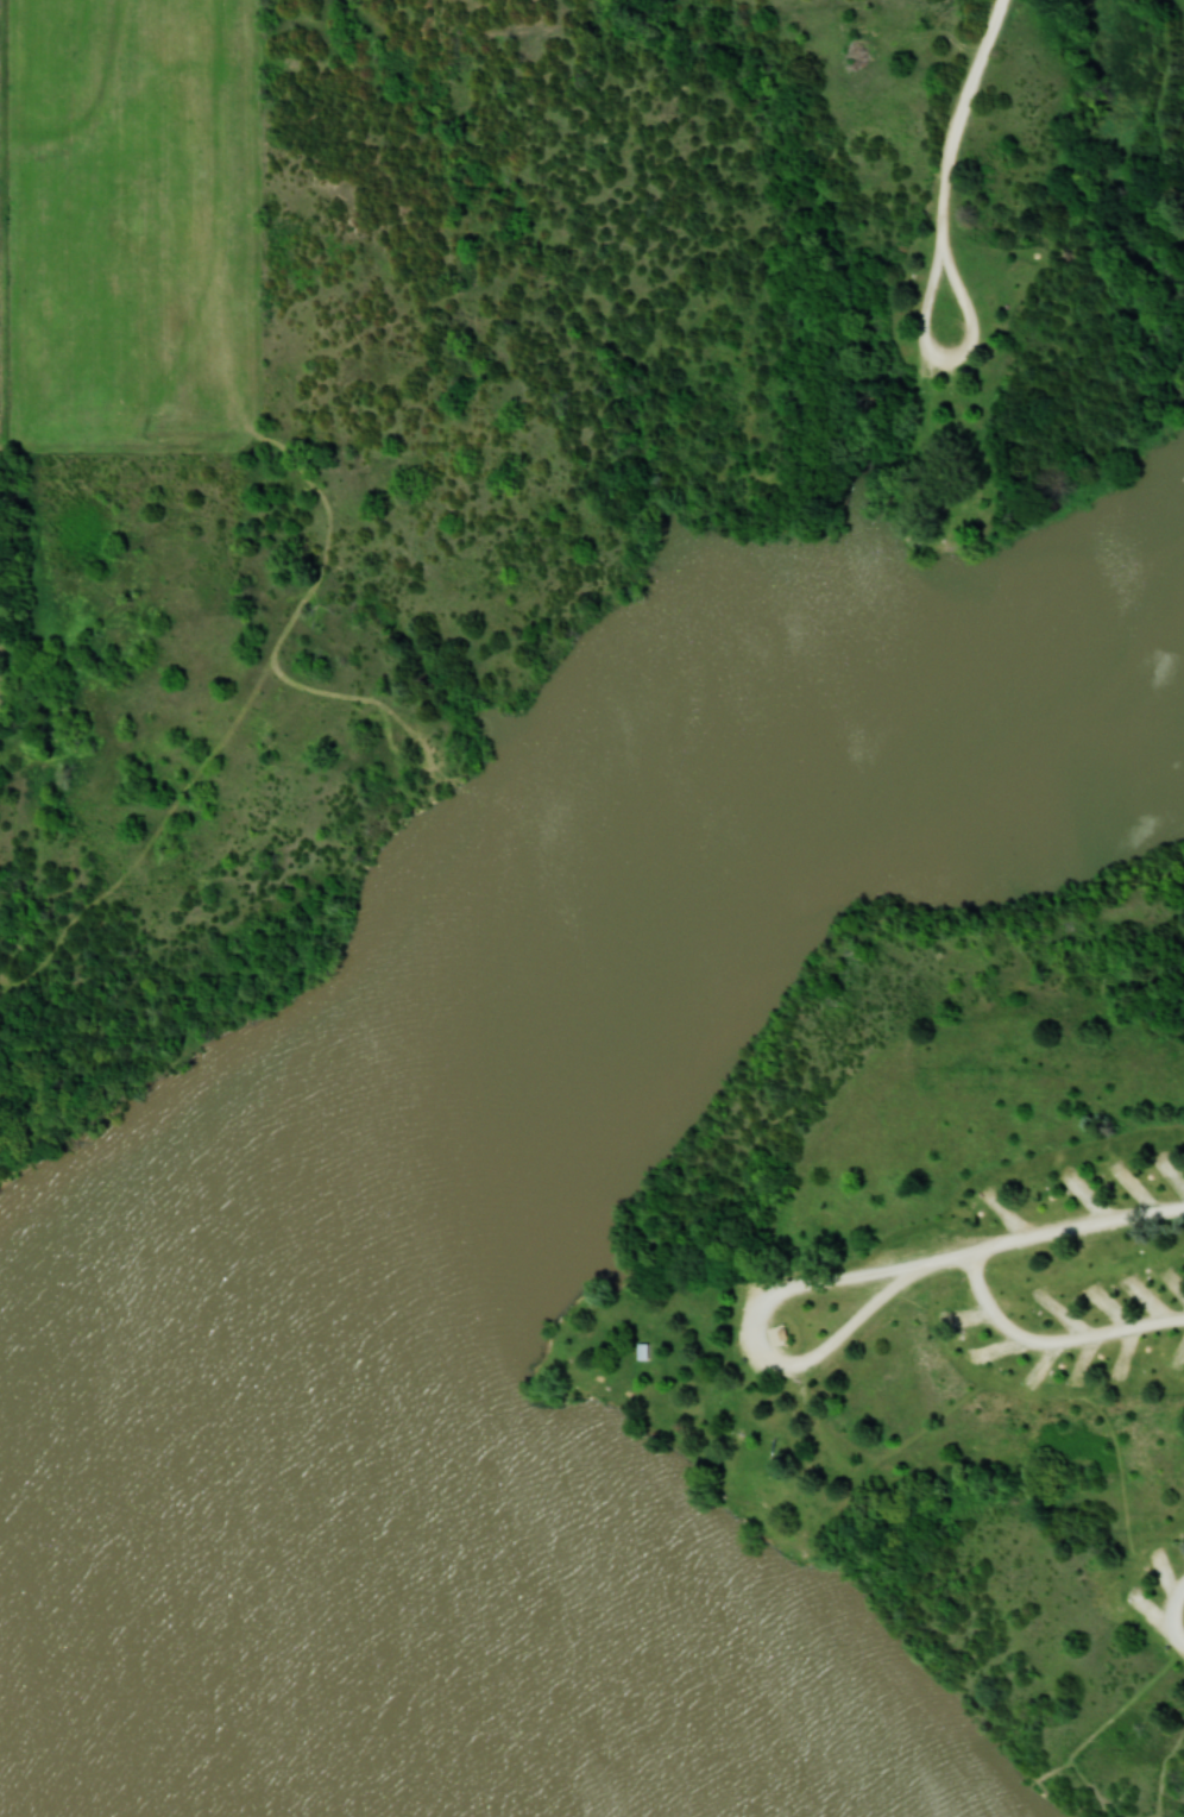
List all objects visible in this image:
road: (964, 126)
road: (956, 354)
park: (618, 947)
road: (1044, 1233)
building: (776, 1332)
road: (1052, 1339)
road: (754, 1345)
road: (1174, 1615)

